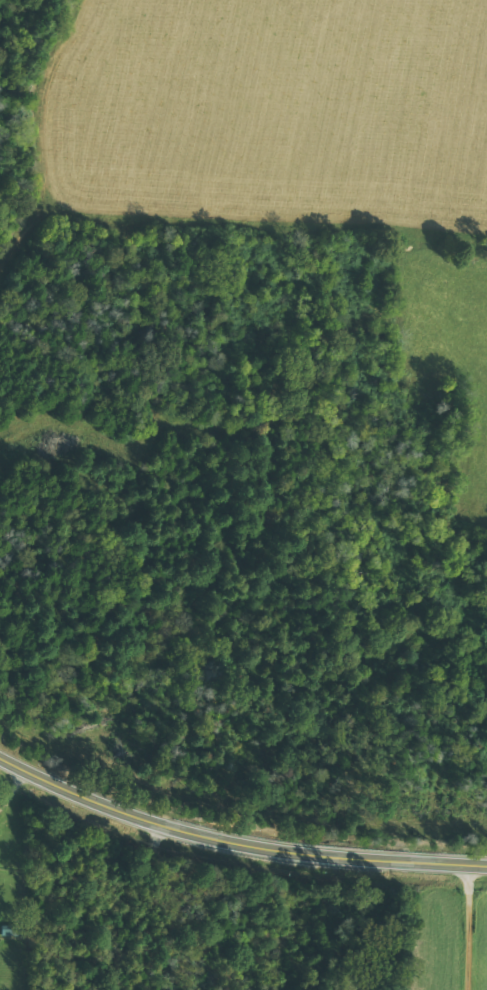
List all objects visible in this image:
road: (236, 840)

